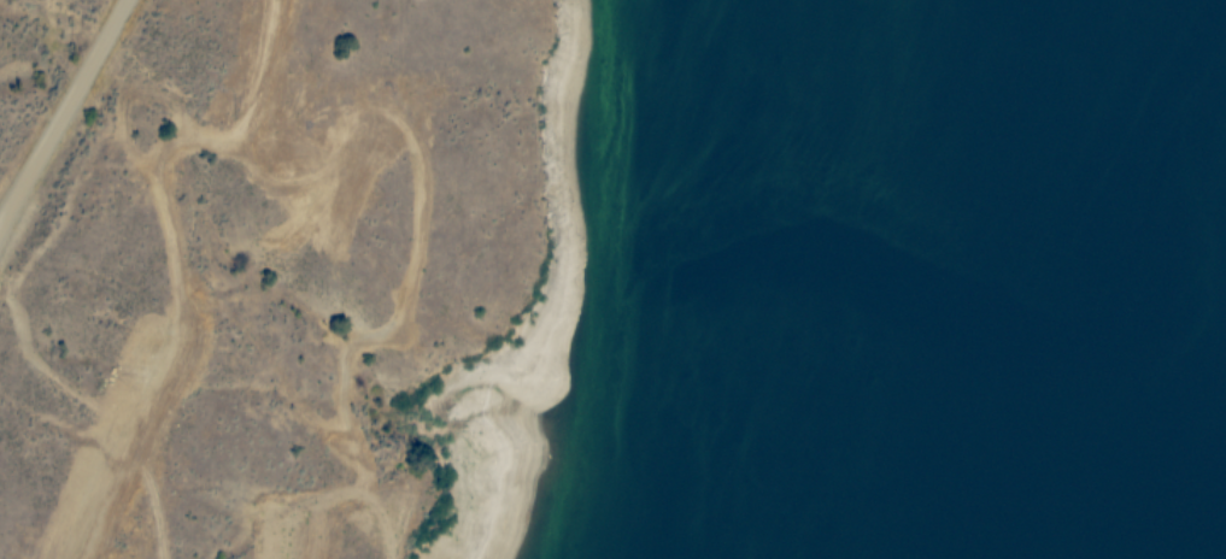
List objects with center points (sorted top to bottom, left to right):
road: (66, 124)

